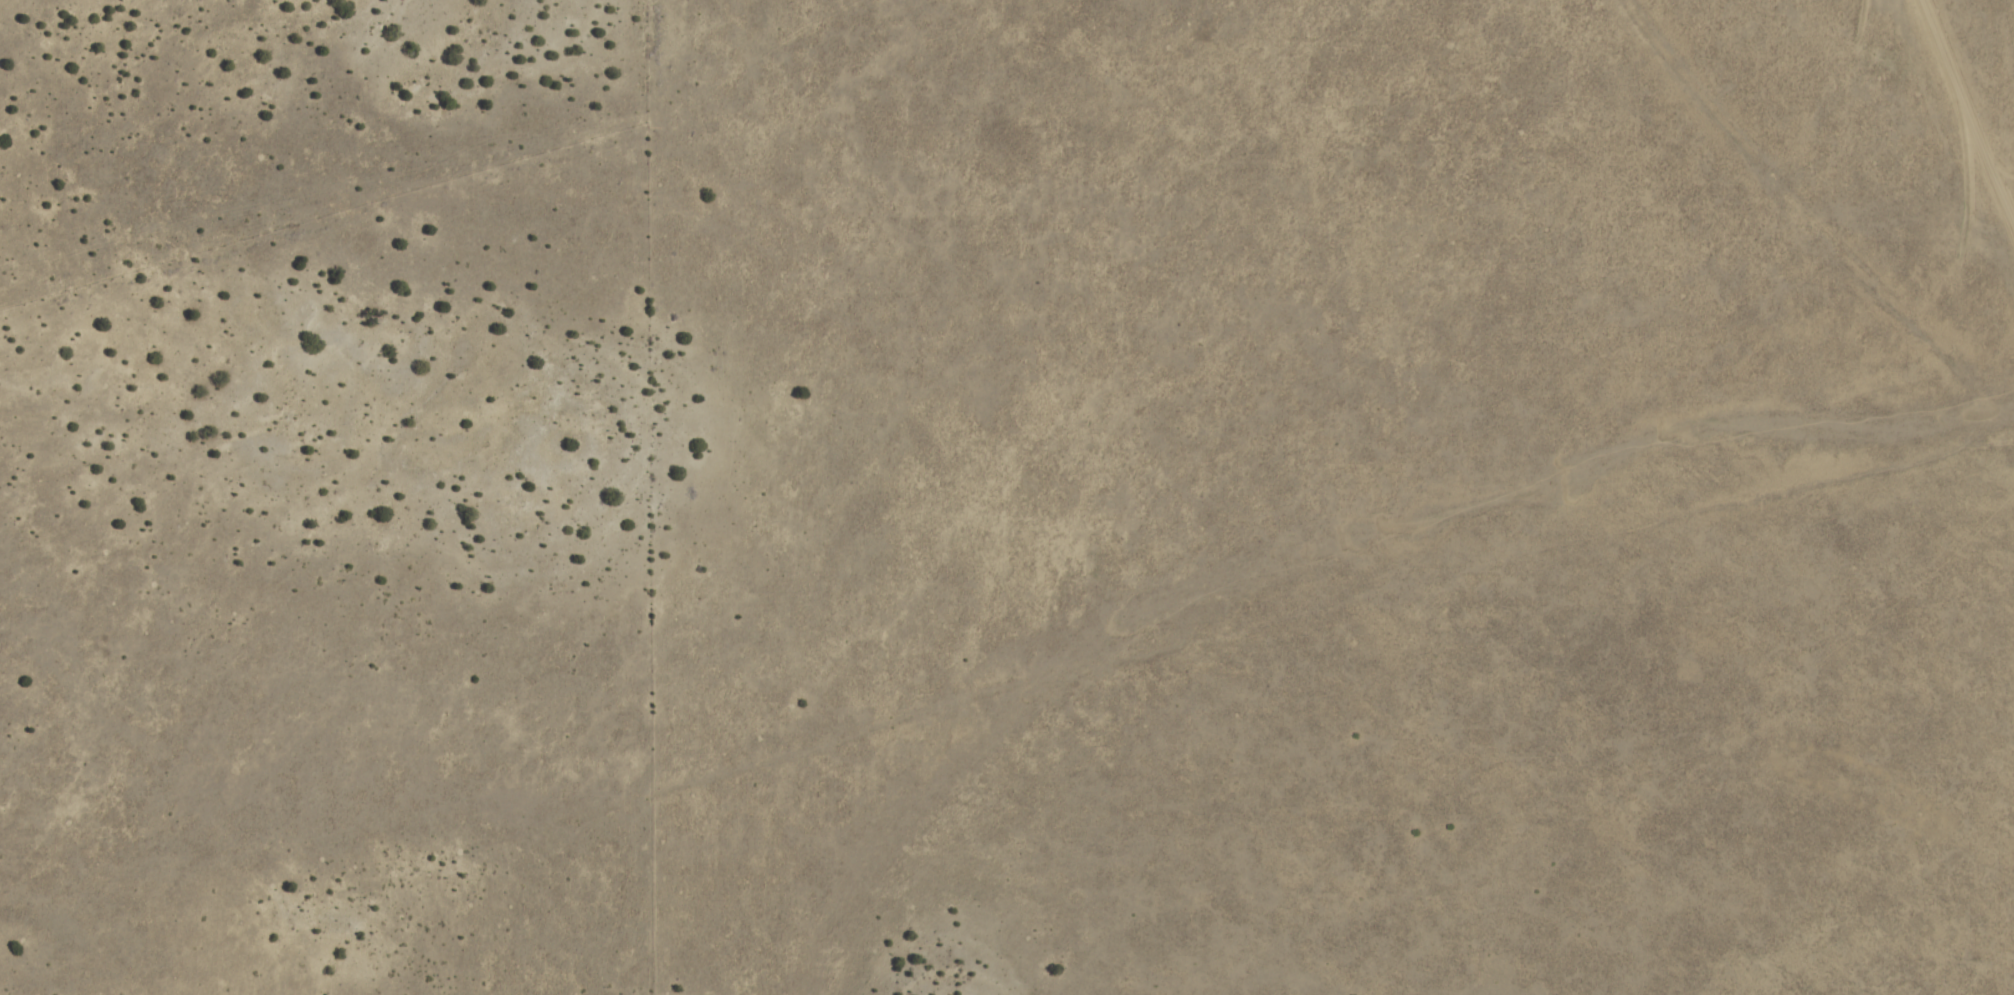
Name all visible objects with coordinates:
road: (1948, 142)

